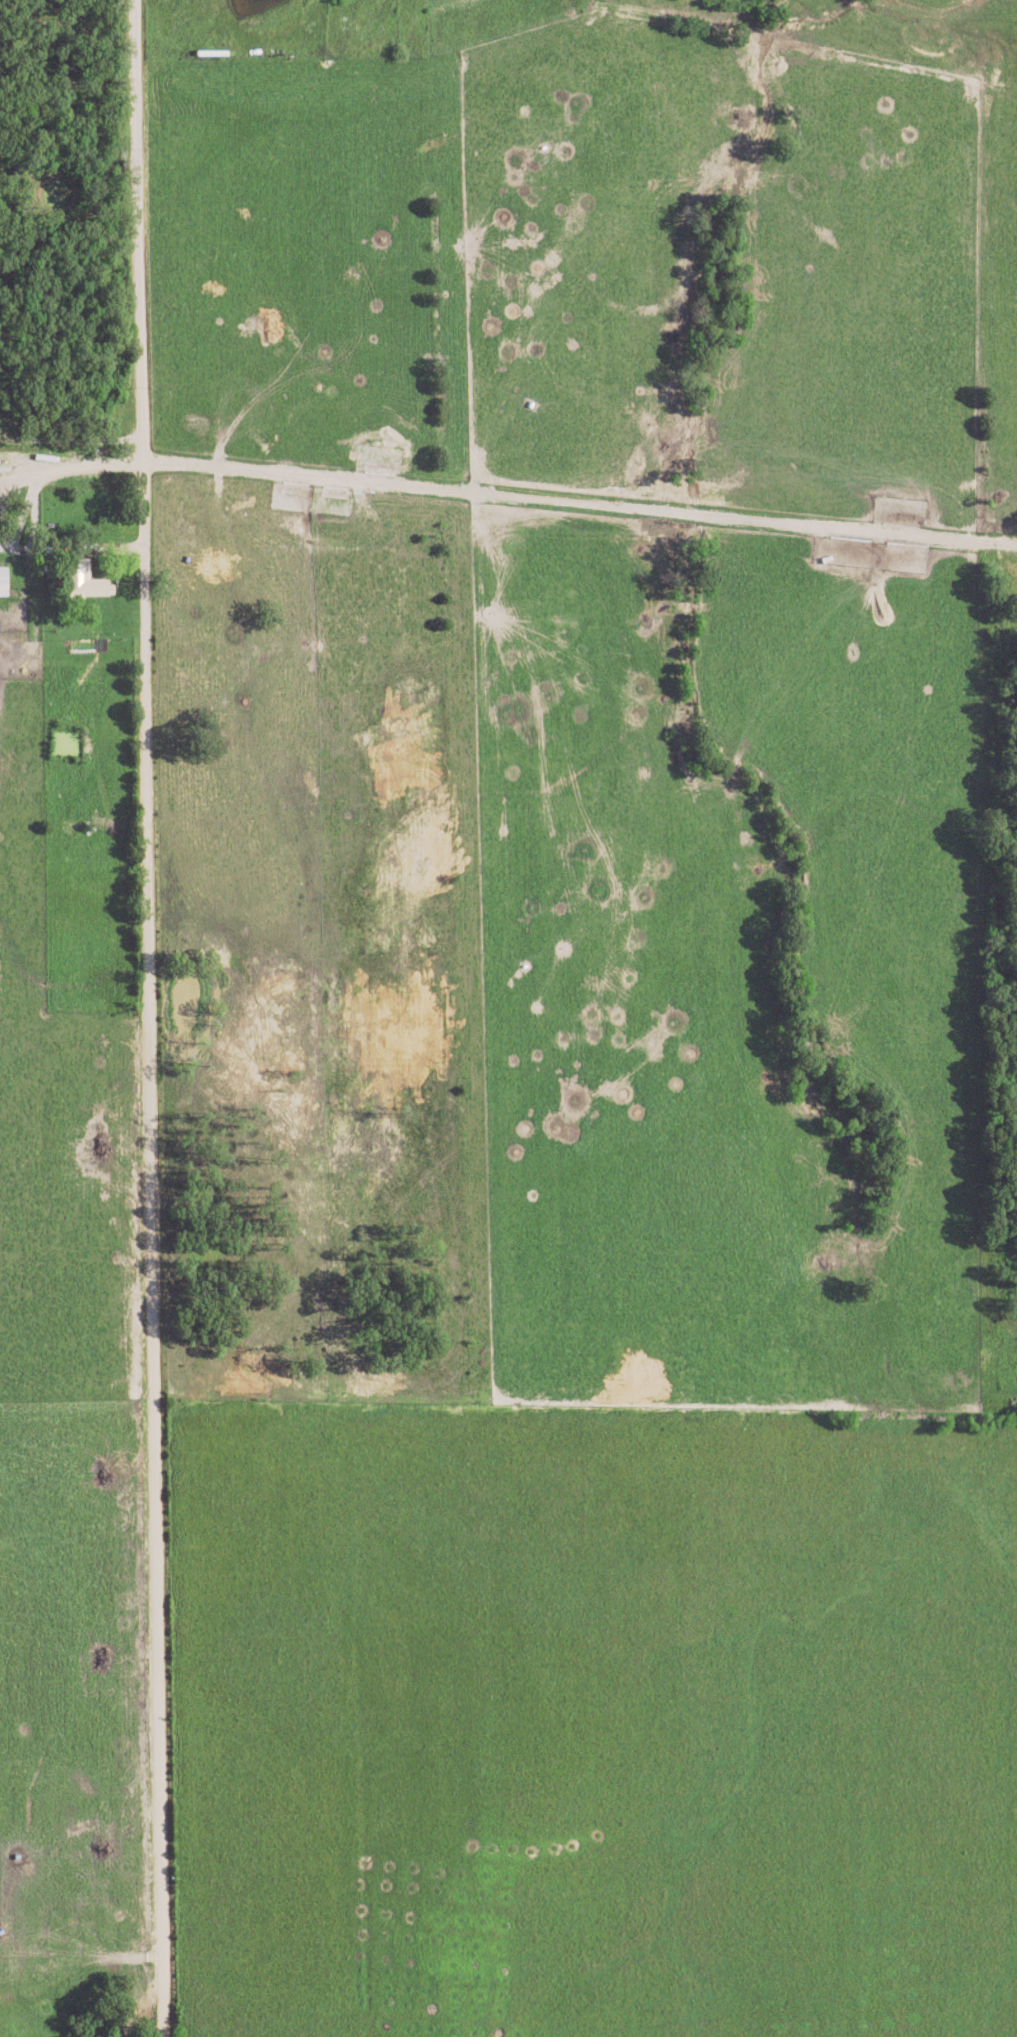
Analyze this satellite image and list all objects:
road: (68, 469)
building: (3, 583)
building: (90, 585)
road: (152, 1018)

